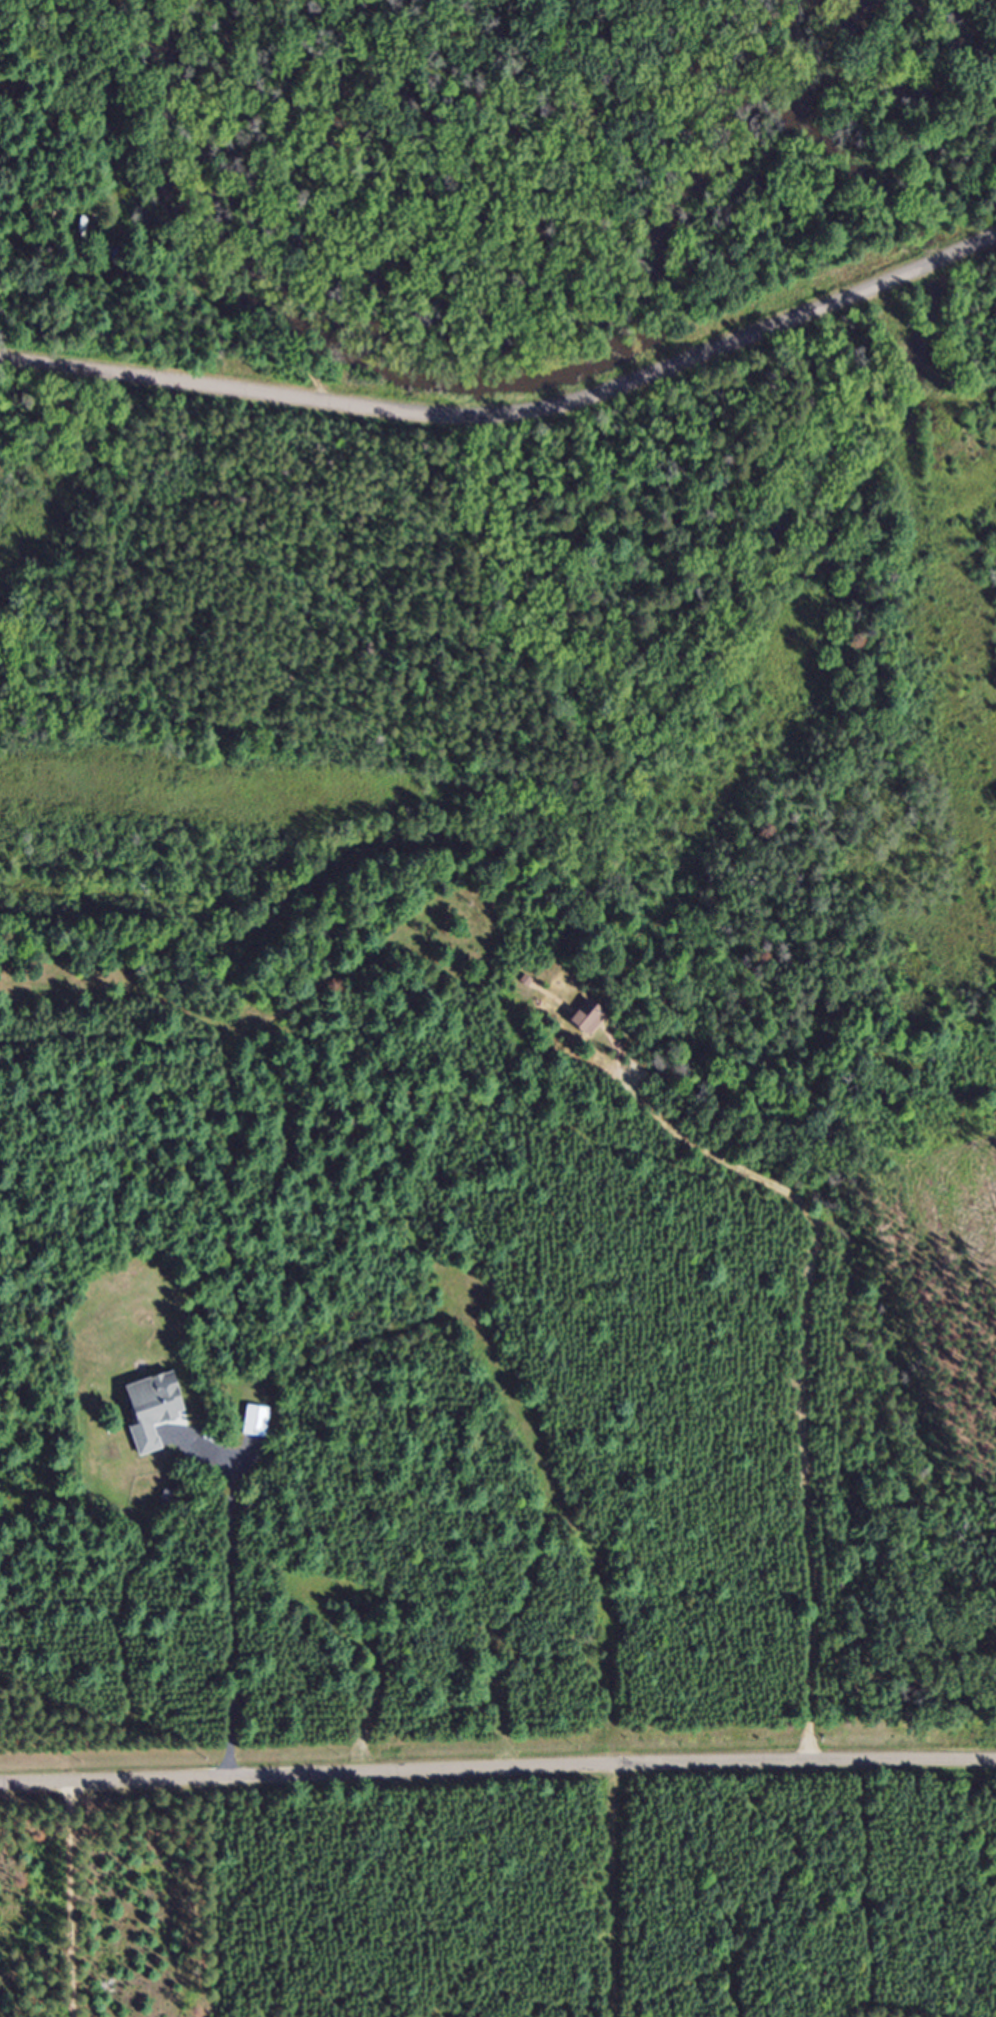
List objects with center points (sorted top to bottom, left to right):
road: (512, 413)
building: (593, 1023)
building: (158, 1415)
building: (260, 1427)
road: (497, 1768)

